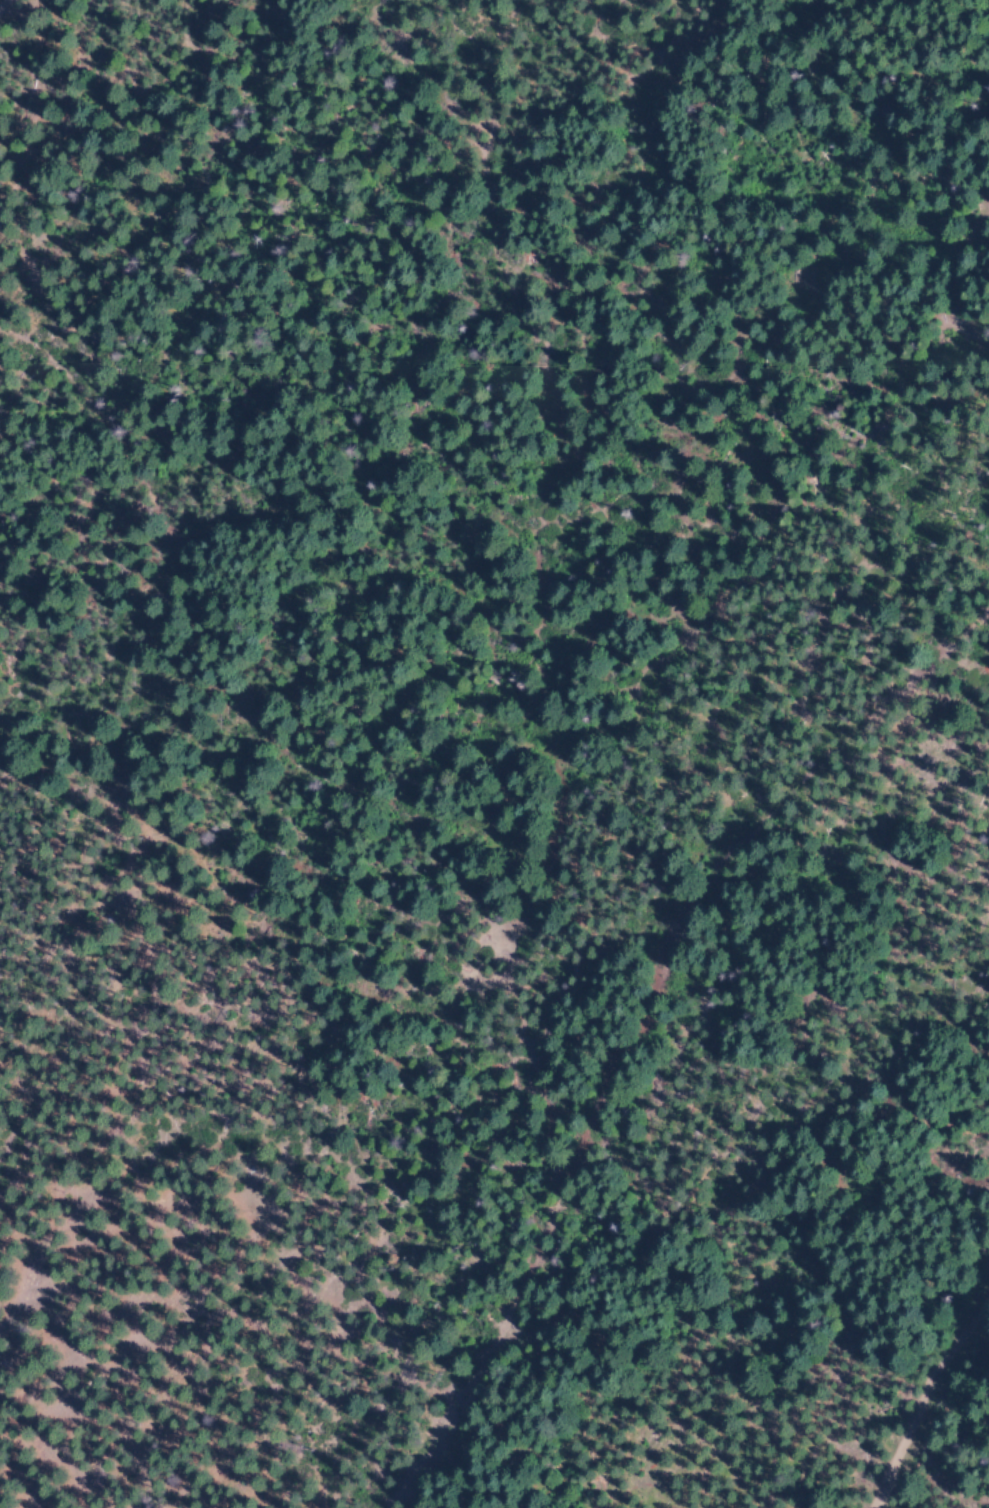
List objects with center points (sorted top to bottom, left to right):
road: (927, 1378)

